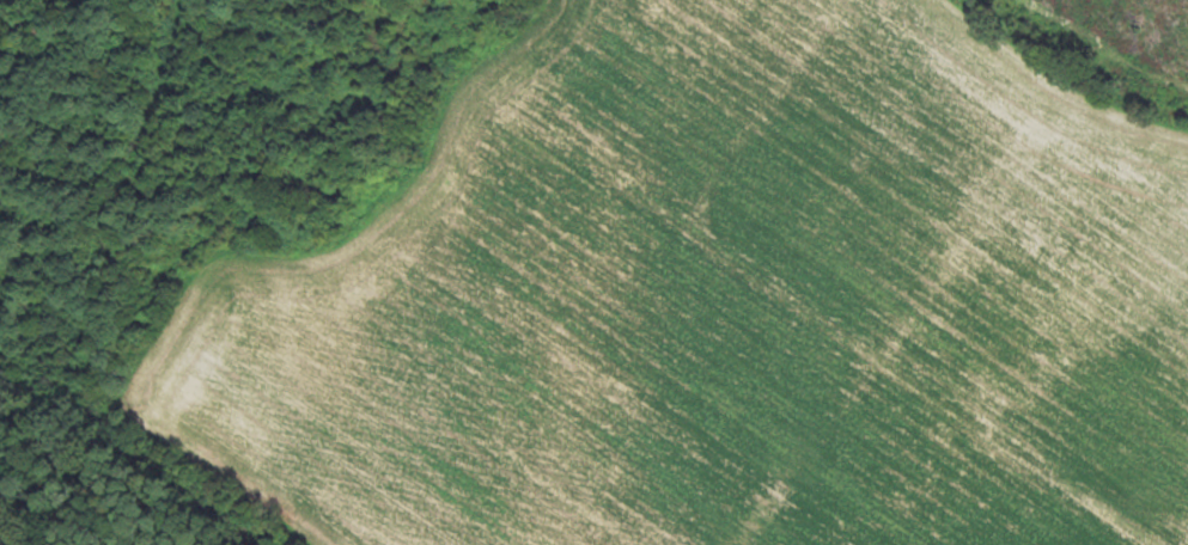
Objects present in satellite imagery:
road: (793, 320)

